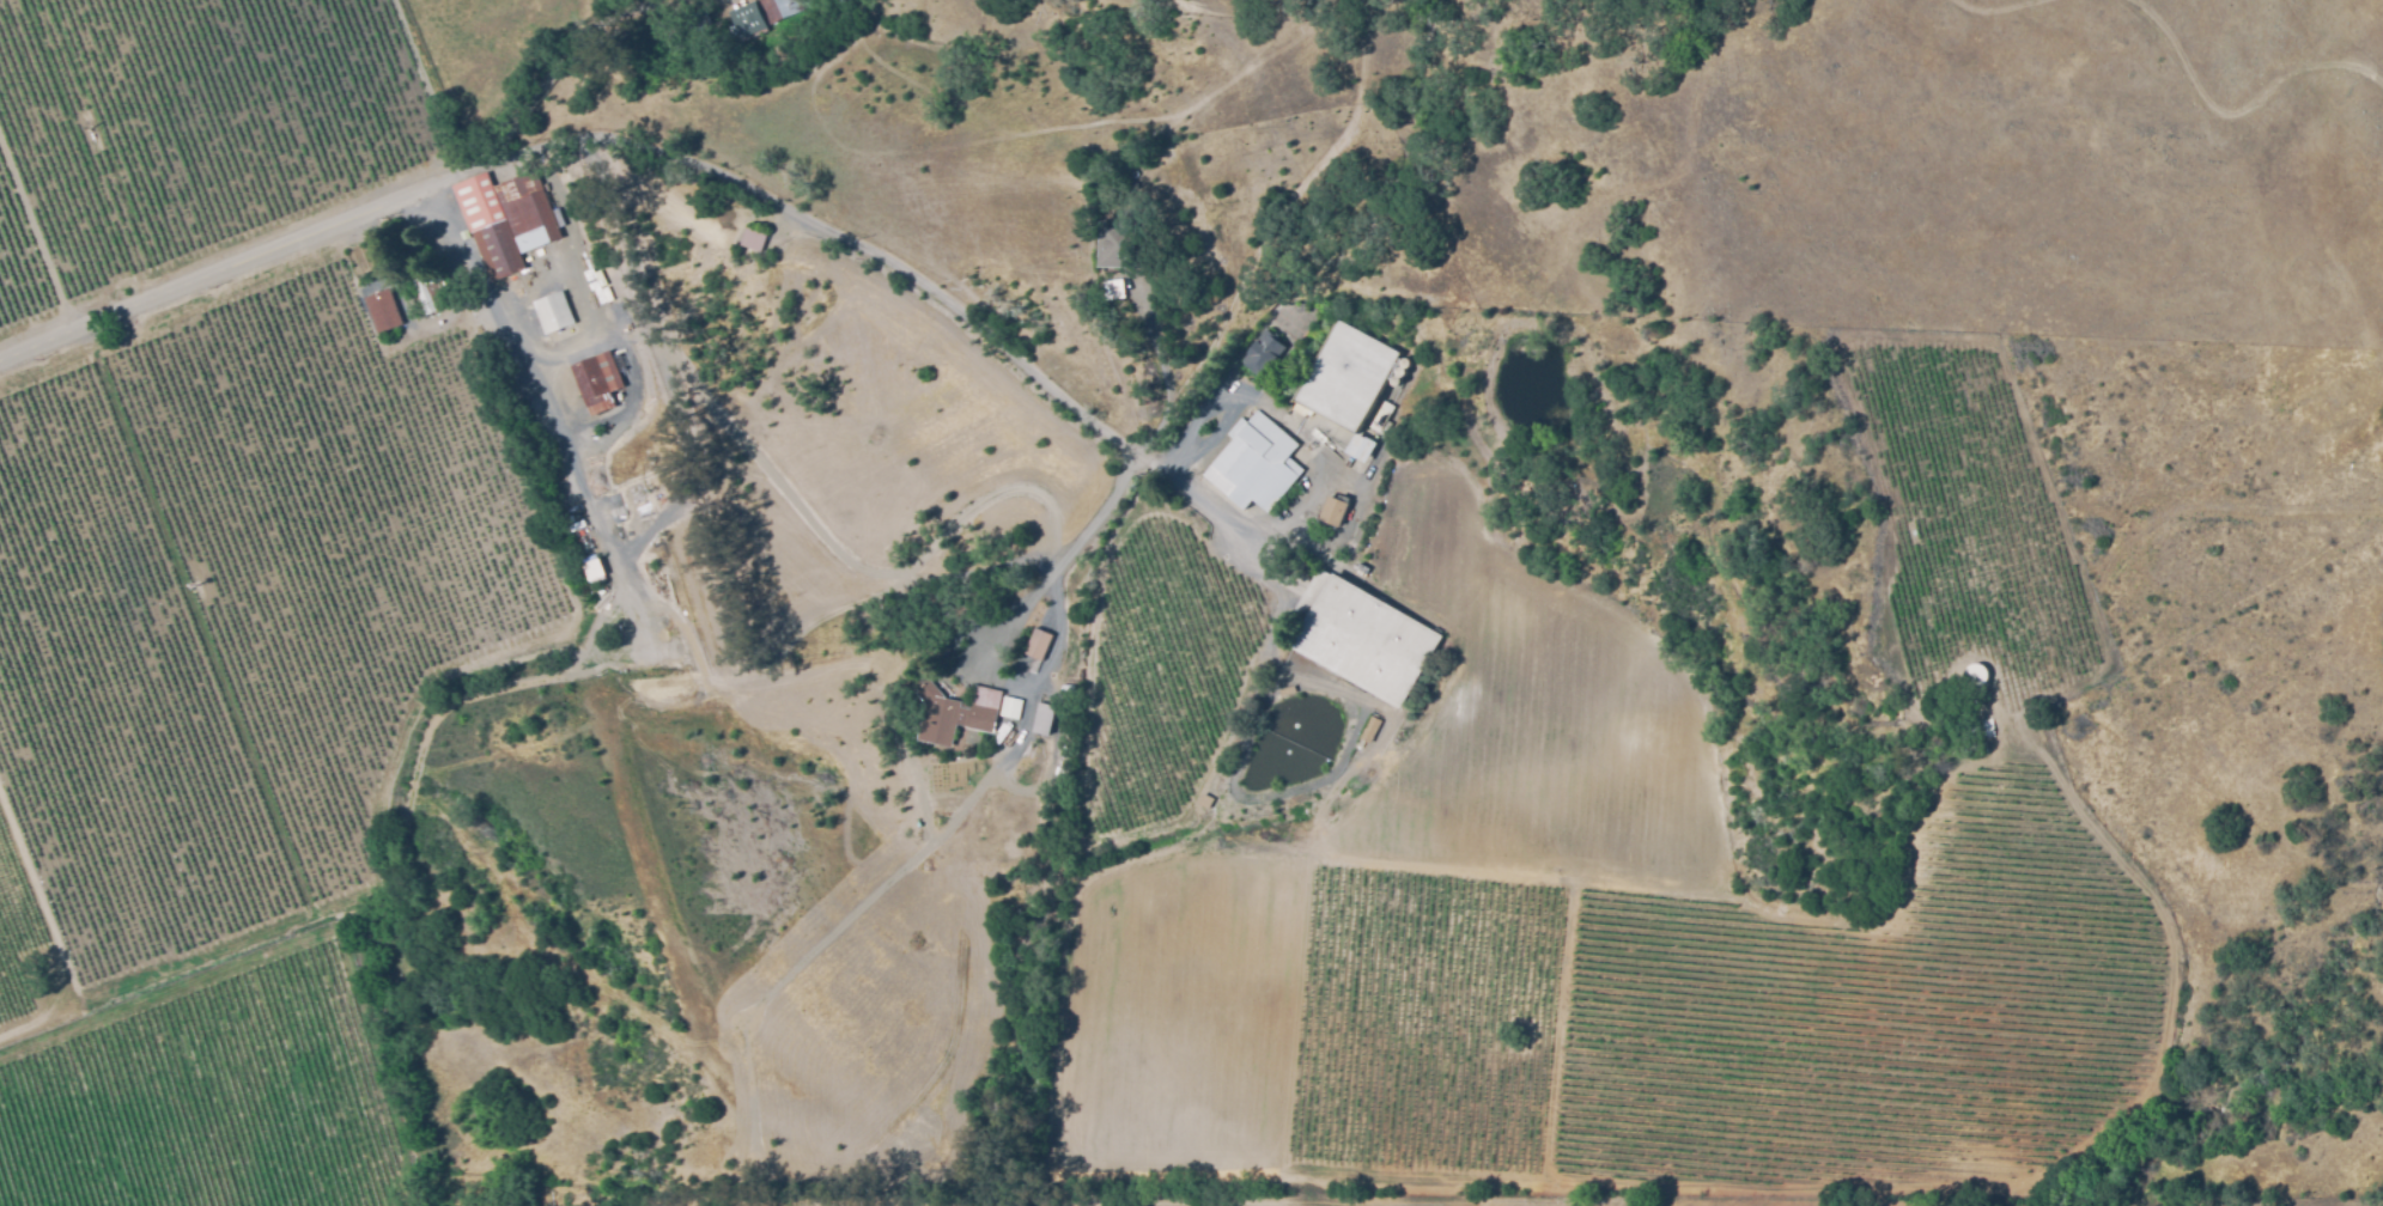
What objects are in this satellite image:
building: (762, 14)
road: (665, 157)
building: (506, 219)
building: (755, 236)
building: (1119, 244)
building: (1114, 288)
building: (425, 291)
road: (511, 306)
building: (1301, 307)
building: (383, 310)
building: (554, 312)
building: (1263, 352)
building: (1346, 376)
building: (597, 382)
building: (1381, 416)
road: (1197, 444)
building: (1361, 447)
building: (1256, 463)
building: (1333, 511)
building: (1331, 553)
road: (1069, 562)
building: (1364, 571)
road: (1289, 592)
building: (1363, 636)
building: (1035, 640)
building: (1976, 670)
building: (1288, 690)
building: (1009, 705)
building: (956, 713)
building: (1044, 718)
building: (1370, 729)
building: (1981, 729)
building: (1983, 748)
building: (1206, 800)

